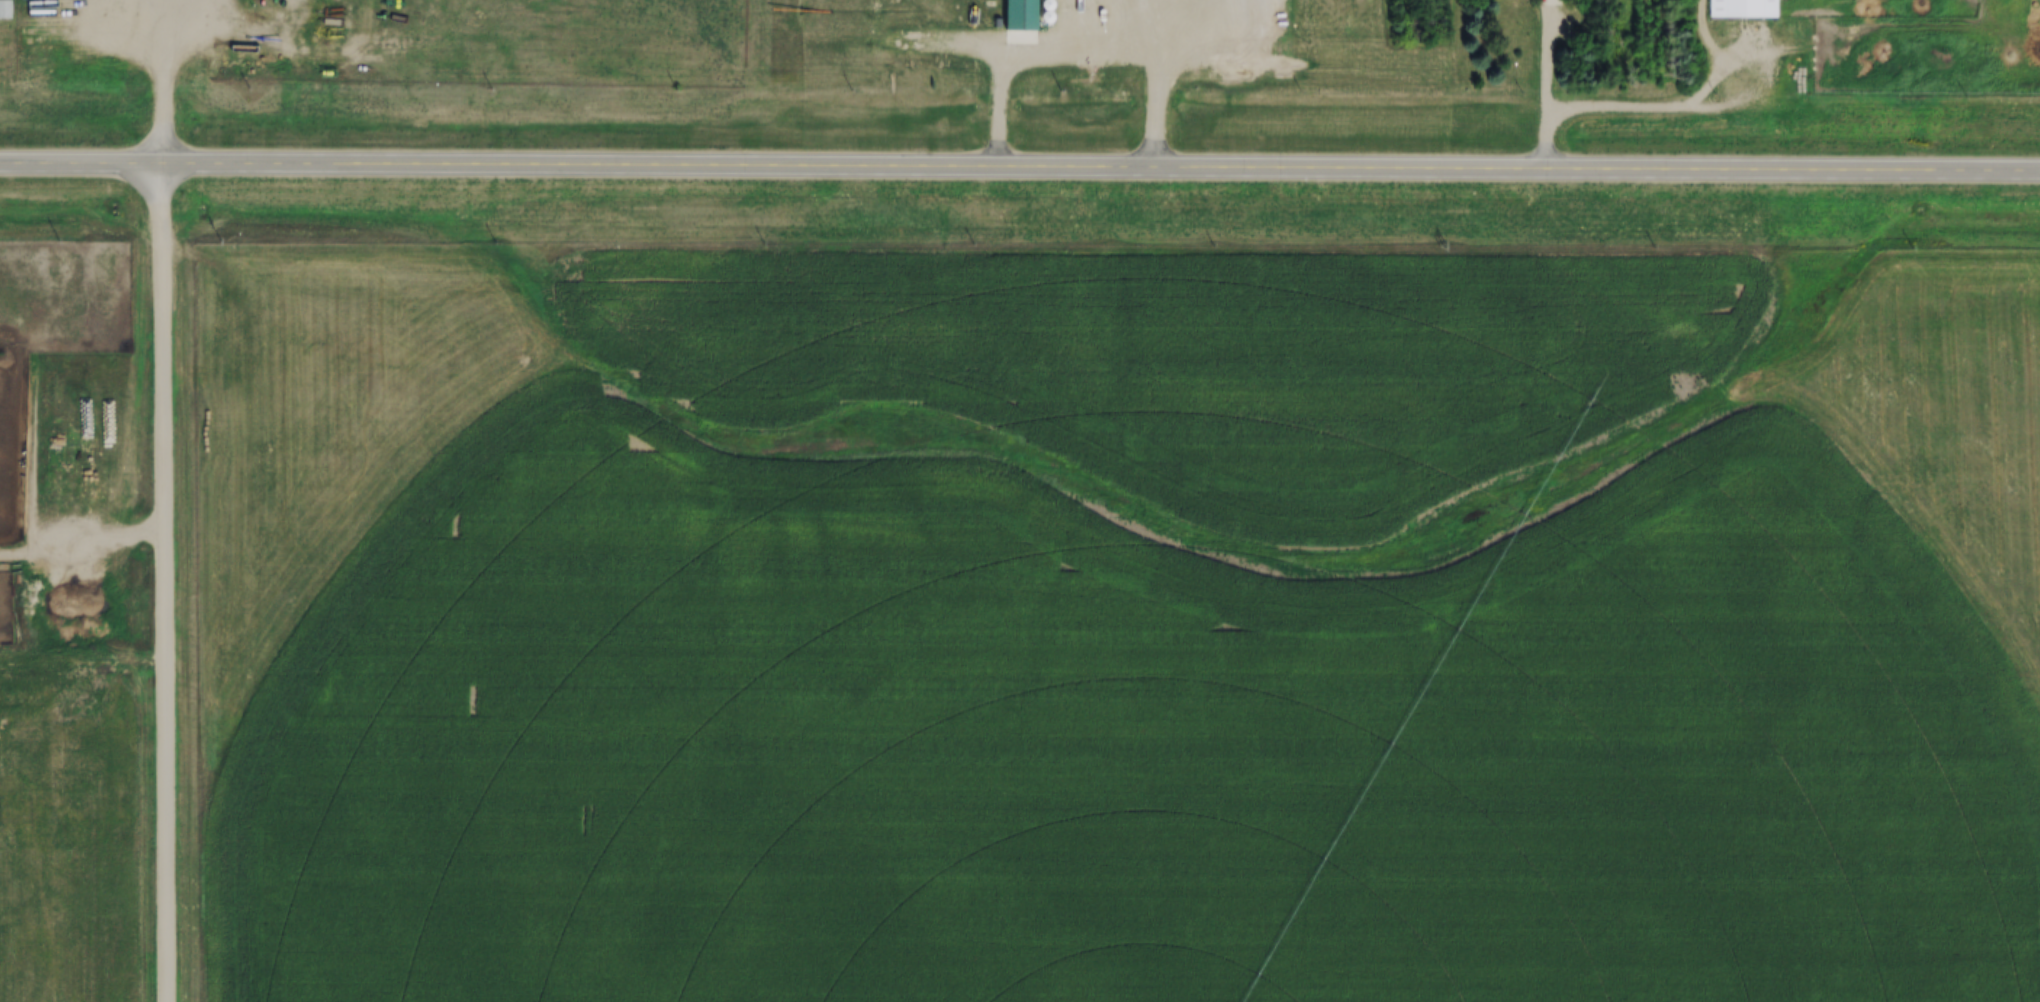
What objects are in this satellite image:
building: (29, 8)
building: (1741, 9)
building: (4, 10)
building: (984, 16)
road: (142, 34)
road: (1017, 35)
road: (170, 83)
road: (1158, 83)
road: (1551, 85)
road: (1019, 170)
building: (56, 384)
road: (172, 585)

